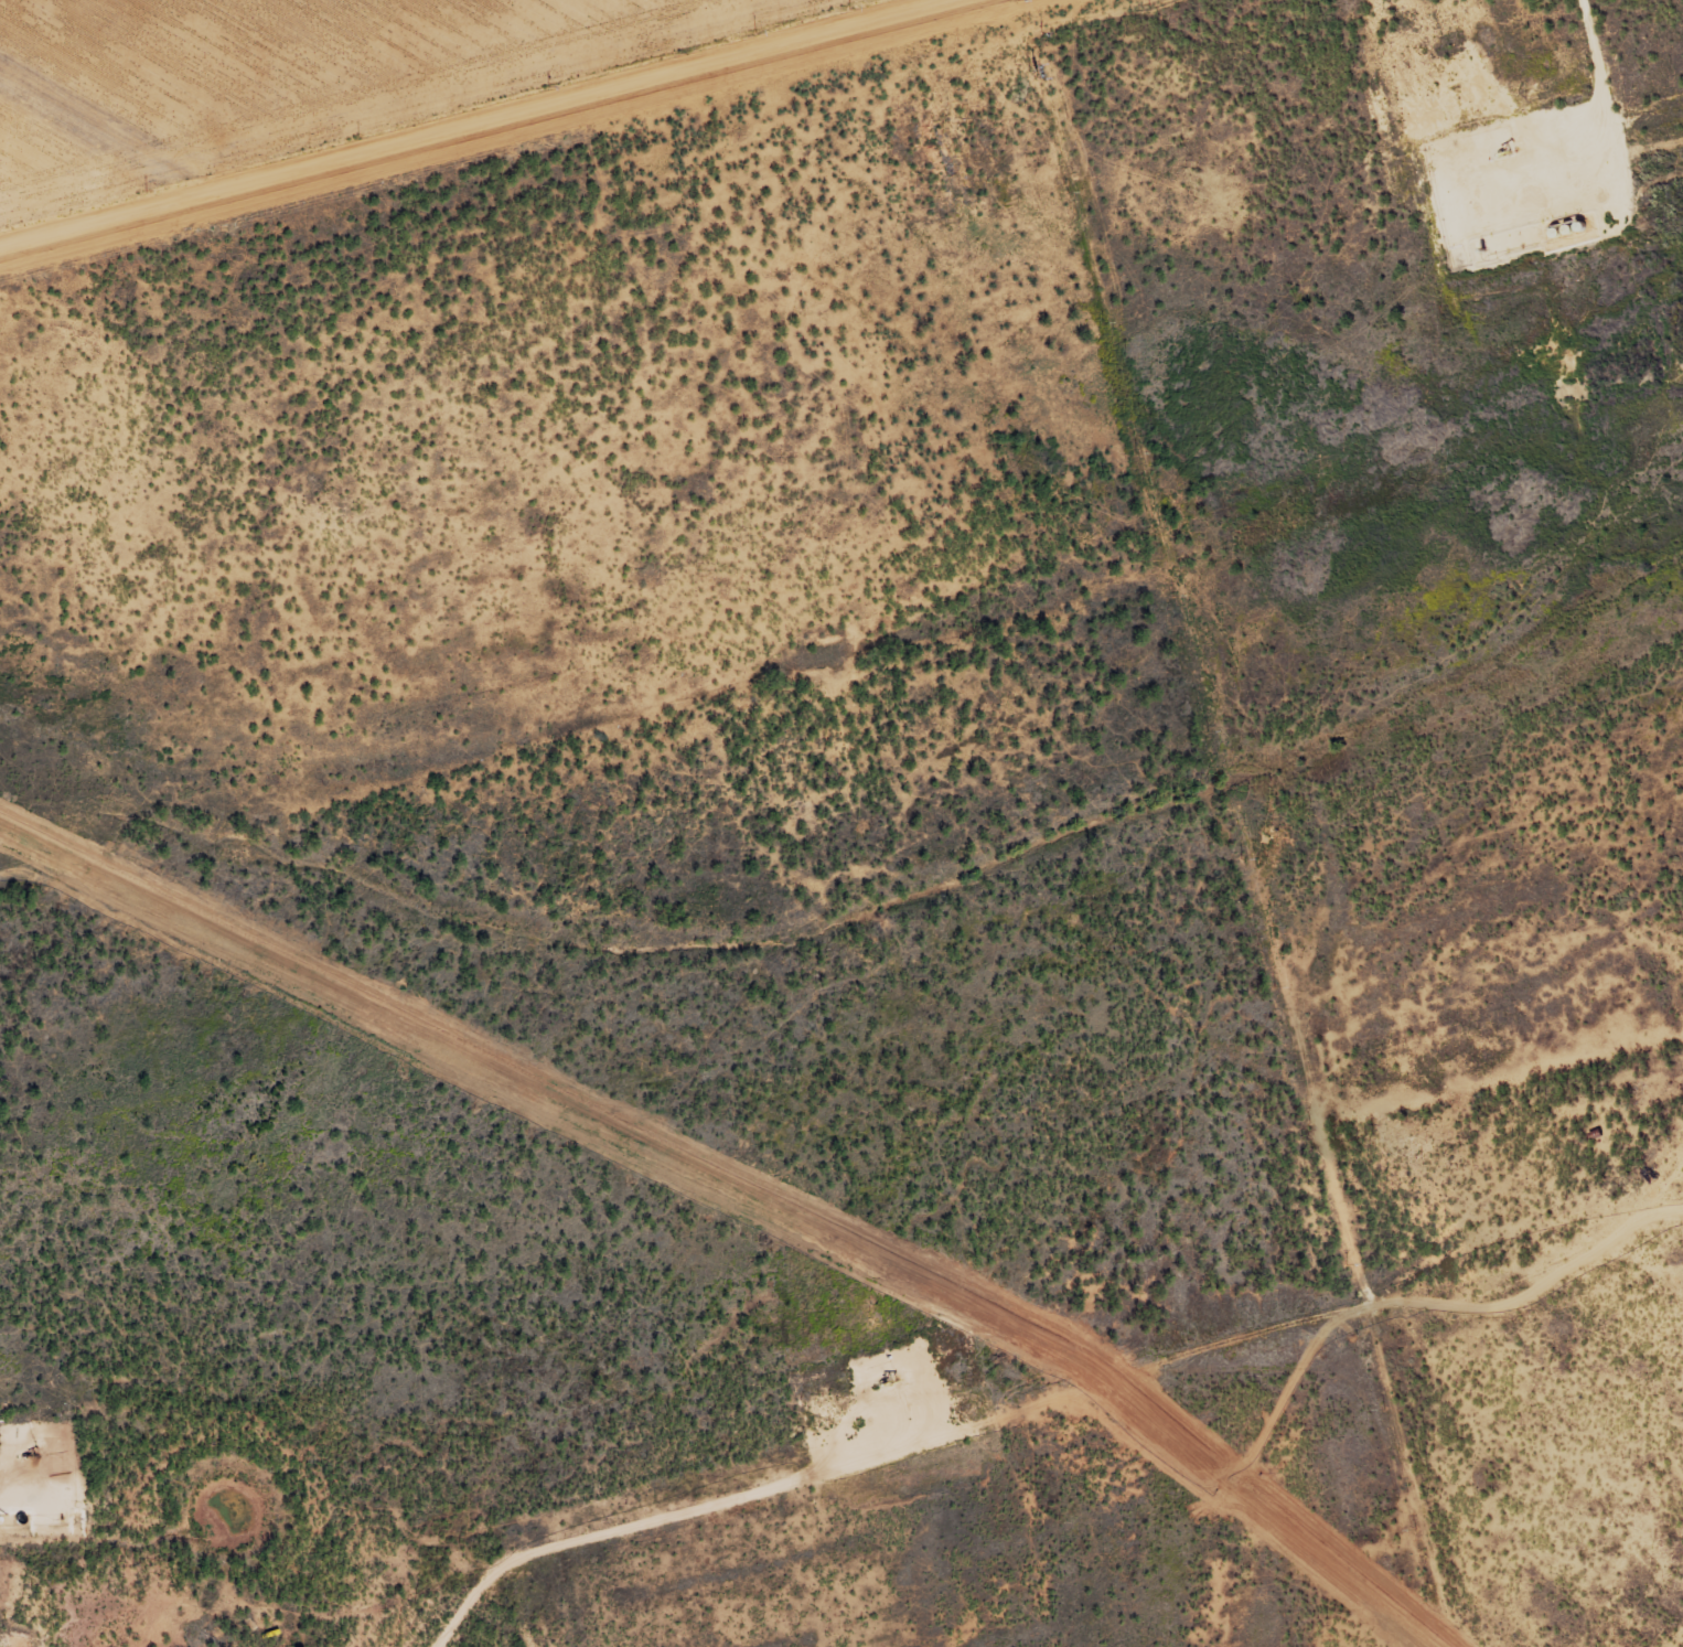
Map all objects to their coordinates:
road: (533, 137)

